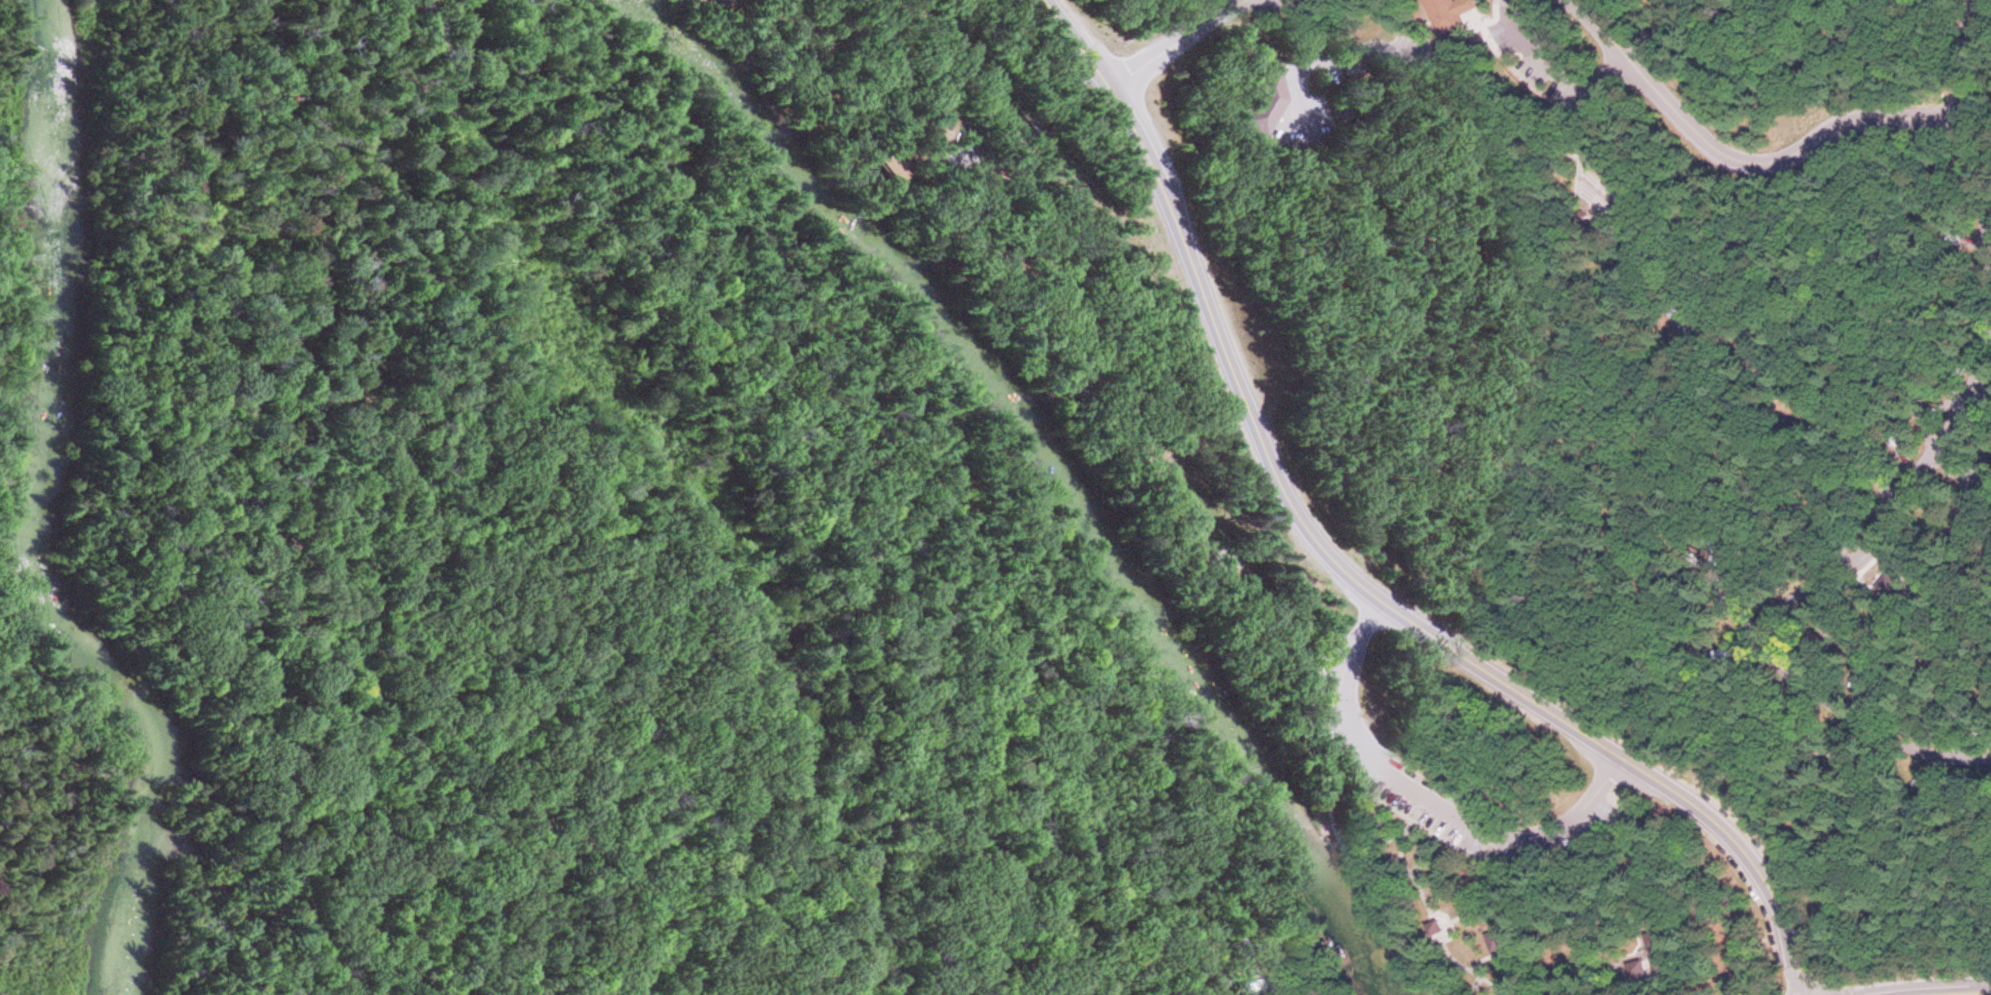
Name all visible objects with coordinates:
building: (1444, 14)
road: (1983, 14)
road: (1293, 26)
road: (1589, 29)
road: (1645, 35)
road: (1171, 41)
parking lot: (1524, 57)
road: (1543, 63)
building: (1264, 96)
road: (1035, 136)
building: (971, 137)
road: (1770, 161)
building: (891, 163)
road: (1981, 231)
parking lot: (1683, 313)
road: (1141, 332)
road: (1753, 362)
building: (1066, 379)
road: (1544, 382)
river: (1045, 464)
road: (1955, 474)
river: (42, 512)
road: (1849, 554)
road: (1345, 569)
building: (1882, 582)
road: (1683, 686)
road: (1862, 724)
road: (1363, 787)
road: (1428, 794)
parking lot: (1430, 818)
road: (1345, 849)
road: (1482, 907)
road: (245, 922)
road: (1435, 922)
building: (1436, 924)
building: (1265, 935)
building: (1502, 935)
building: (1656, 935)
building: (1236, 947)
road: (1621, 957)
building: (1660, 960)
building: (1639, 963)
building: (1291, 971)
building: (1270, 992)

